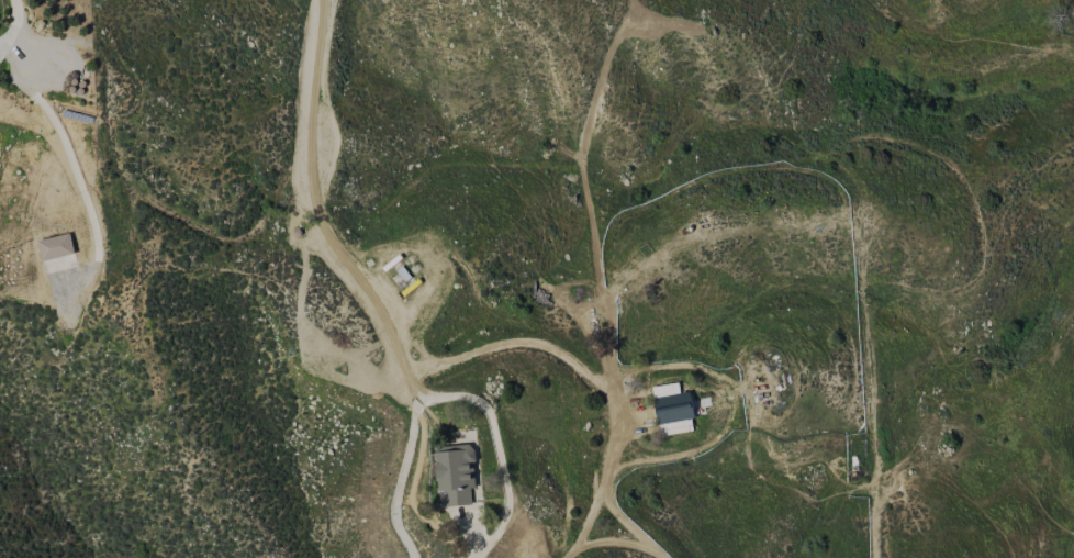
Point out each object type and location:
road: (14, 25)
road: (74, 161)
building: (58, 245)
road: (362, 282)
road: (521, 342)
building: (678, 408)
road: (500, 451)
road: (600, 482)
road: (630, 524)

